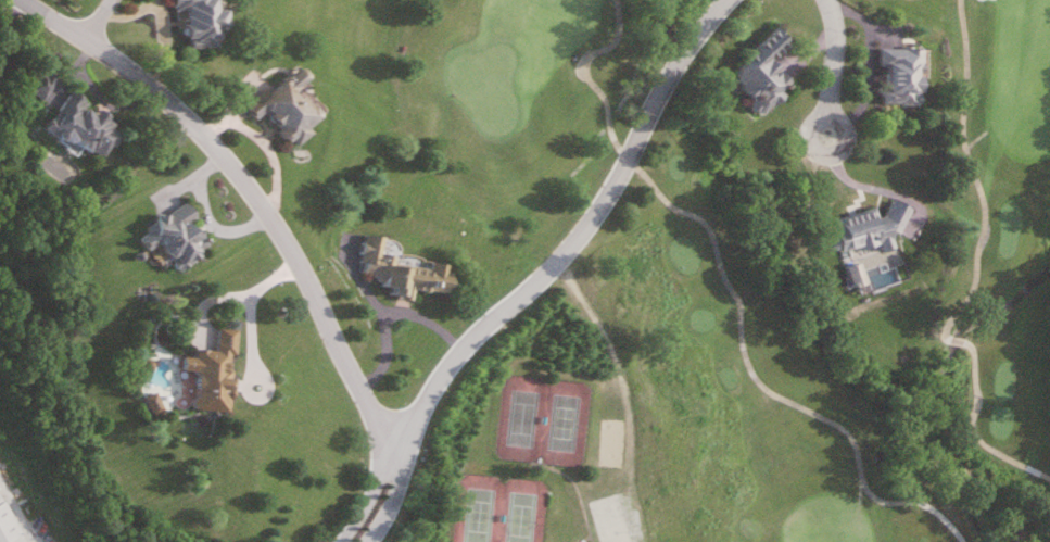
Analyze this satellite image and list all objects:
road: (102, 21)
building: (195, 21)
road: (833, 65)
building: (761, 71)
building: (898, 74)
building: (282, 103)
building: (87, 126)
road: (971, 141)
road: (972, 172)
road: (853, 181)
road: (252, 192)
building: (866, 226)
road: (577, 234)
building: (177, 238)
building: (397, 266)
road: (239, 293)
road: (733, 294)
park: (721, 301)
building: (214, 373)
park: (544, 417)
road: (973, 430)
road: (372, 495)
road: (393, 499)
road: (21, 508)
park: (502, 508)
building: (9, 521)

